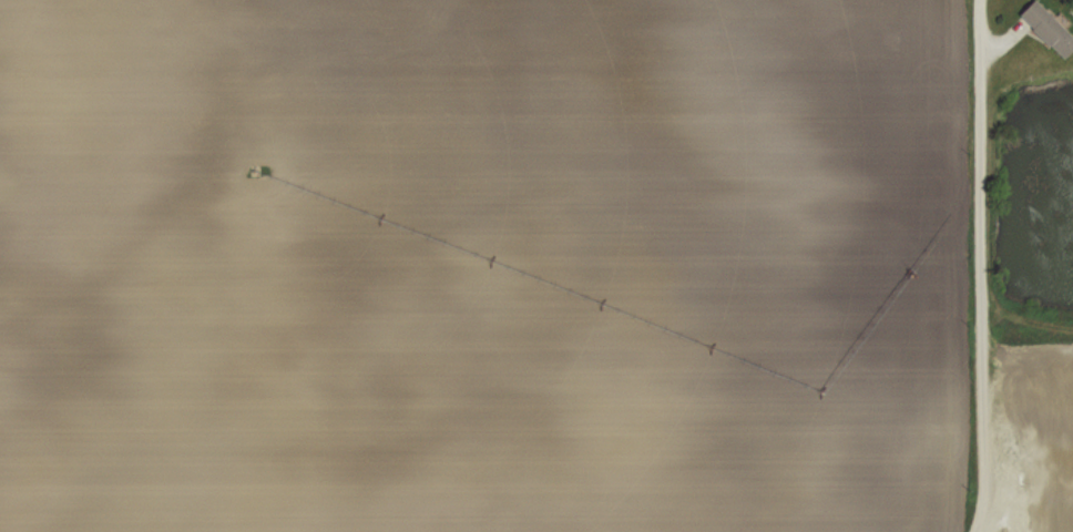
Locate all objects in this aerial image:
road: (982, 29)
building: (1050, 29)
building: (1039, 397)
building: (1031, 462)
building: (1040, 523)

